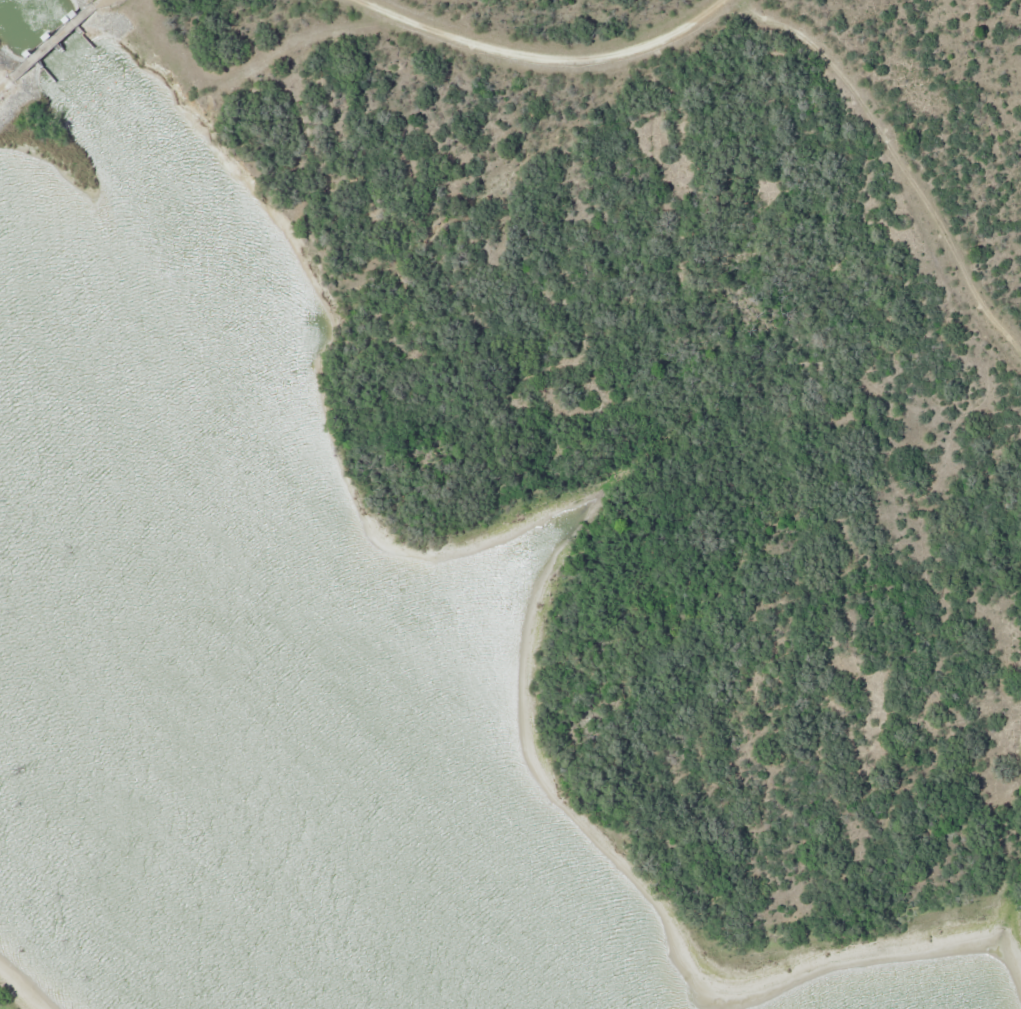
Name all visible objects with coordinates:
road: (93, 10)
road: (50, 48)
road: (551, 61)
road: (9, 84)
road: (897, 149)

